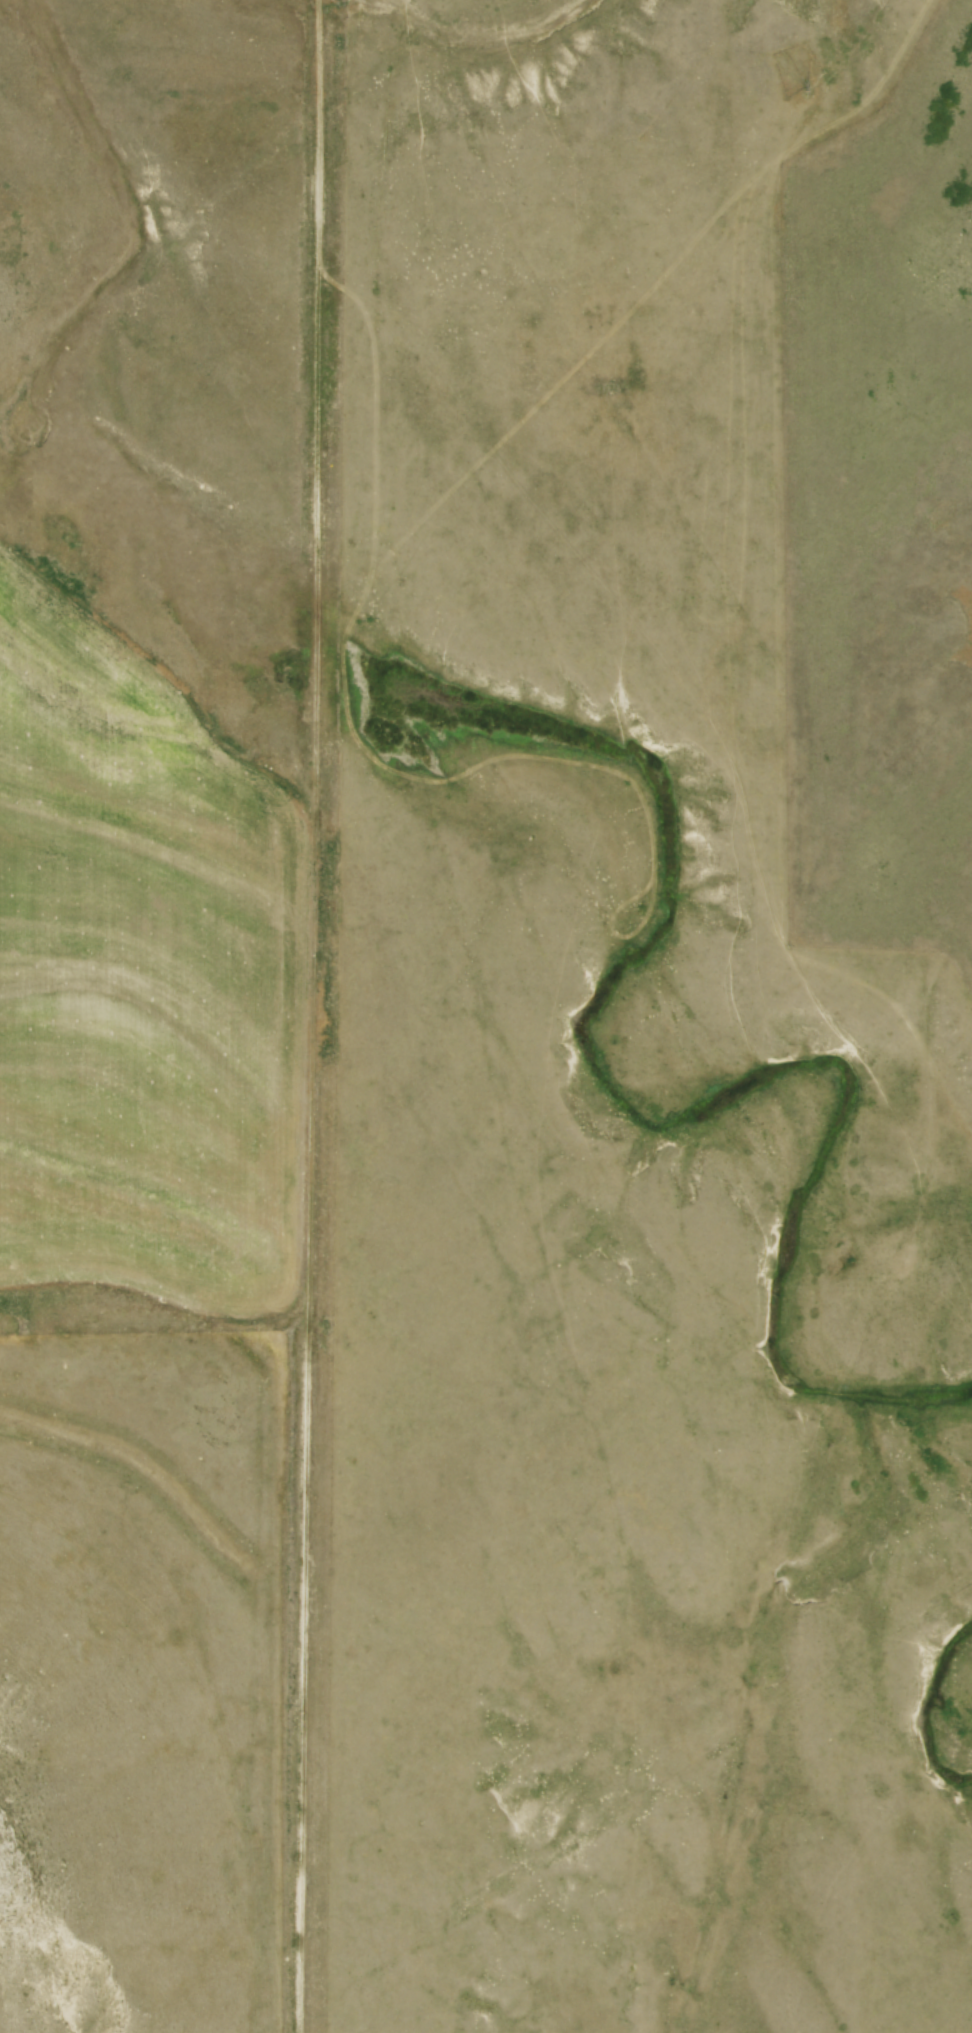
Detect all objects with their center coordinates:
crop: (144, 980)
road: (315, 1016)

